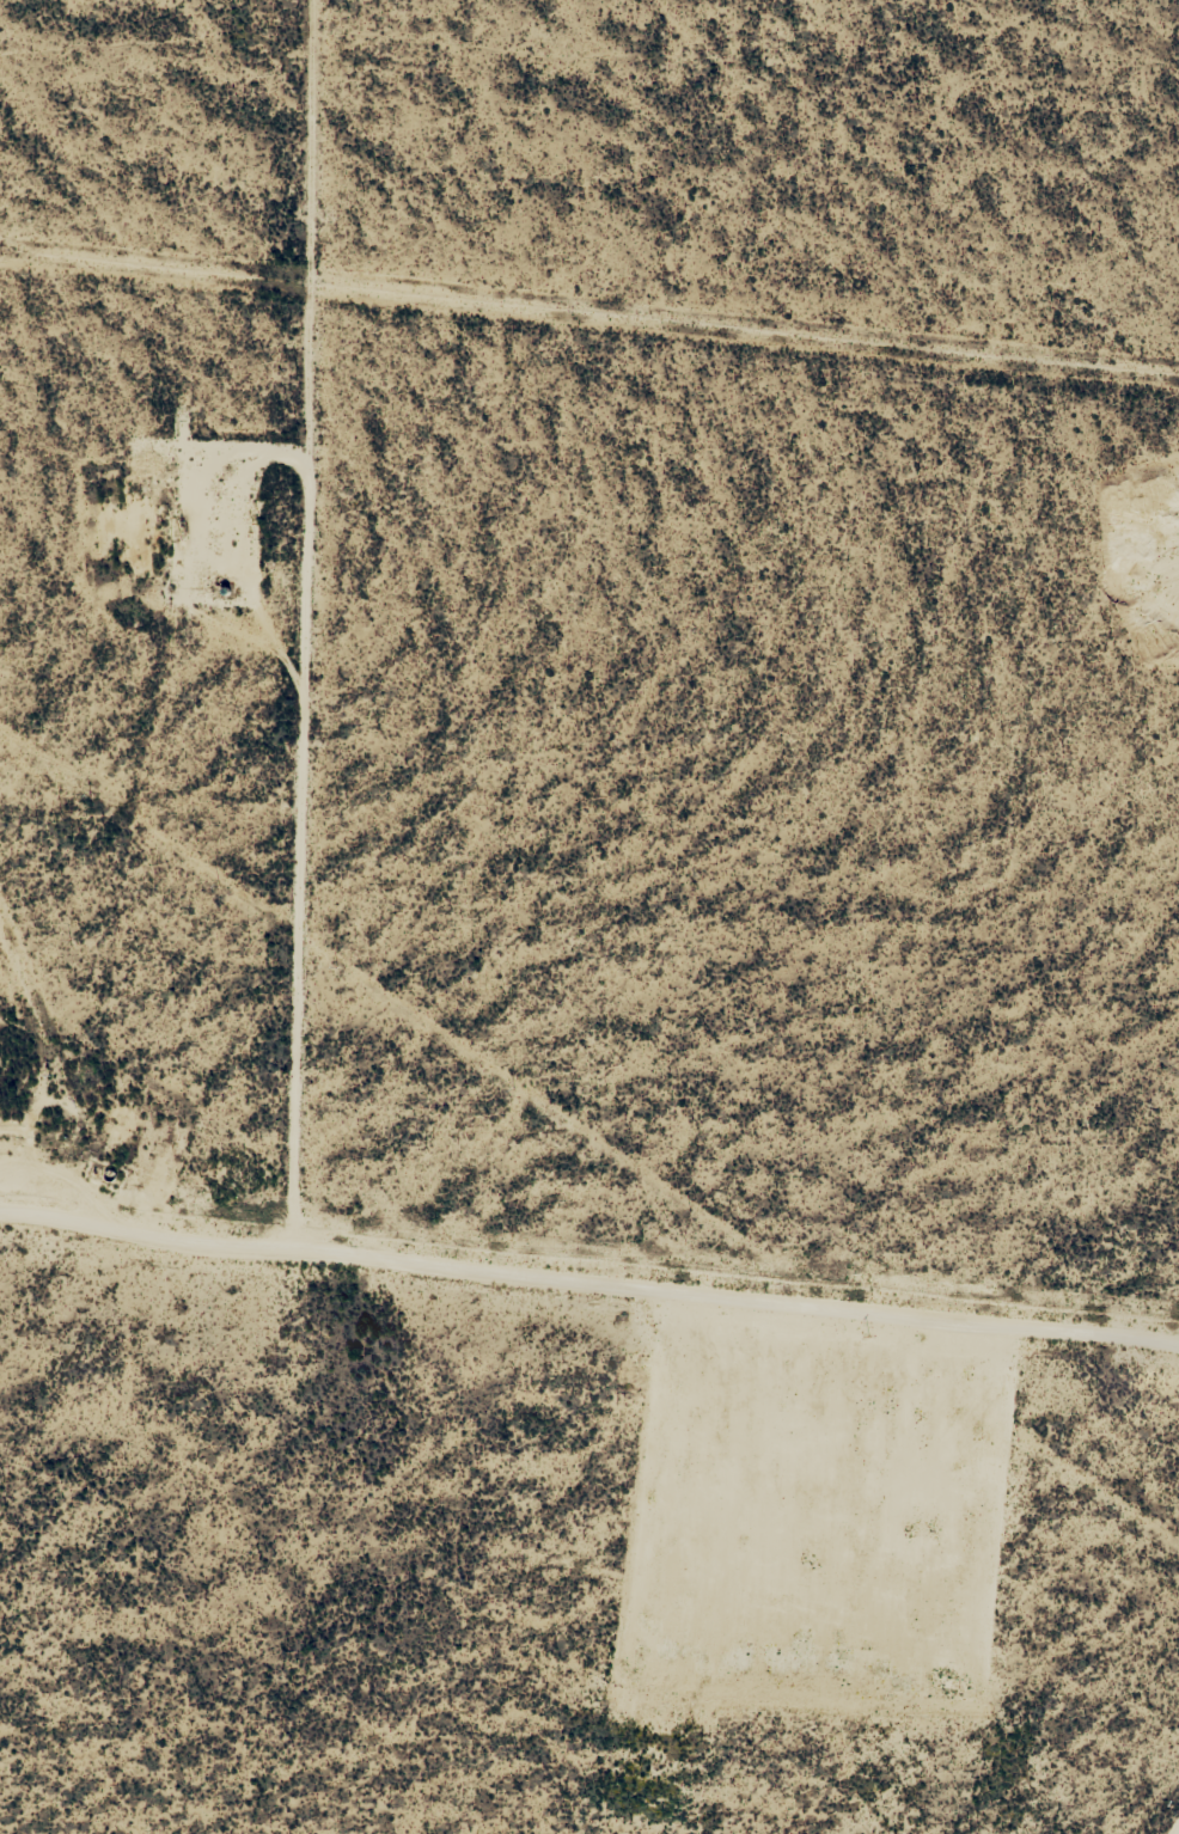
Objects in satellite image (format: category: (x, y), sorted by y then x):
road: (591, 1307)
road: (1052, 1750)

